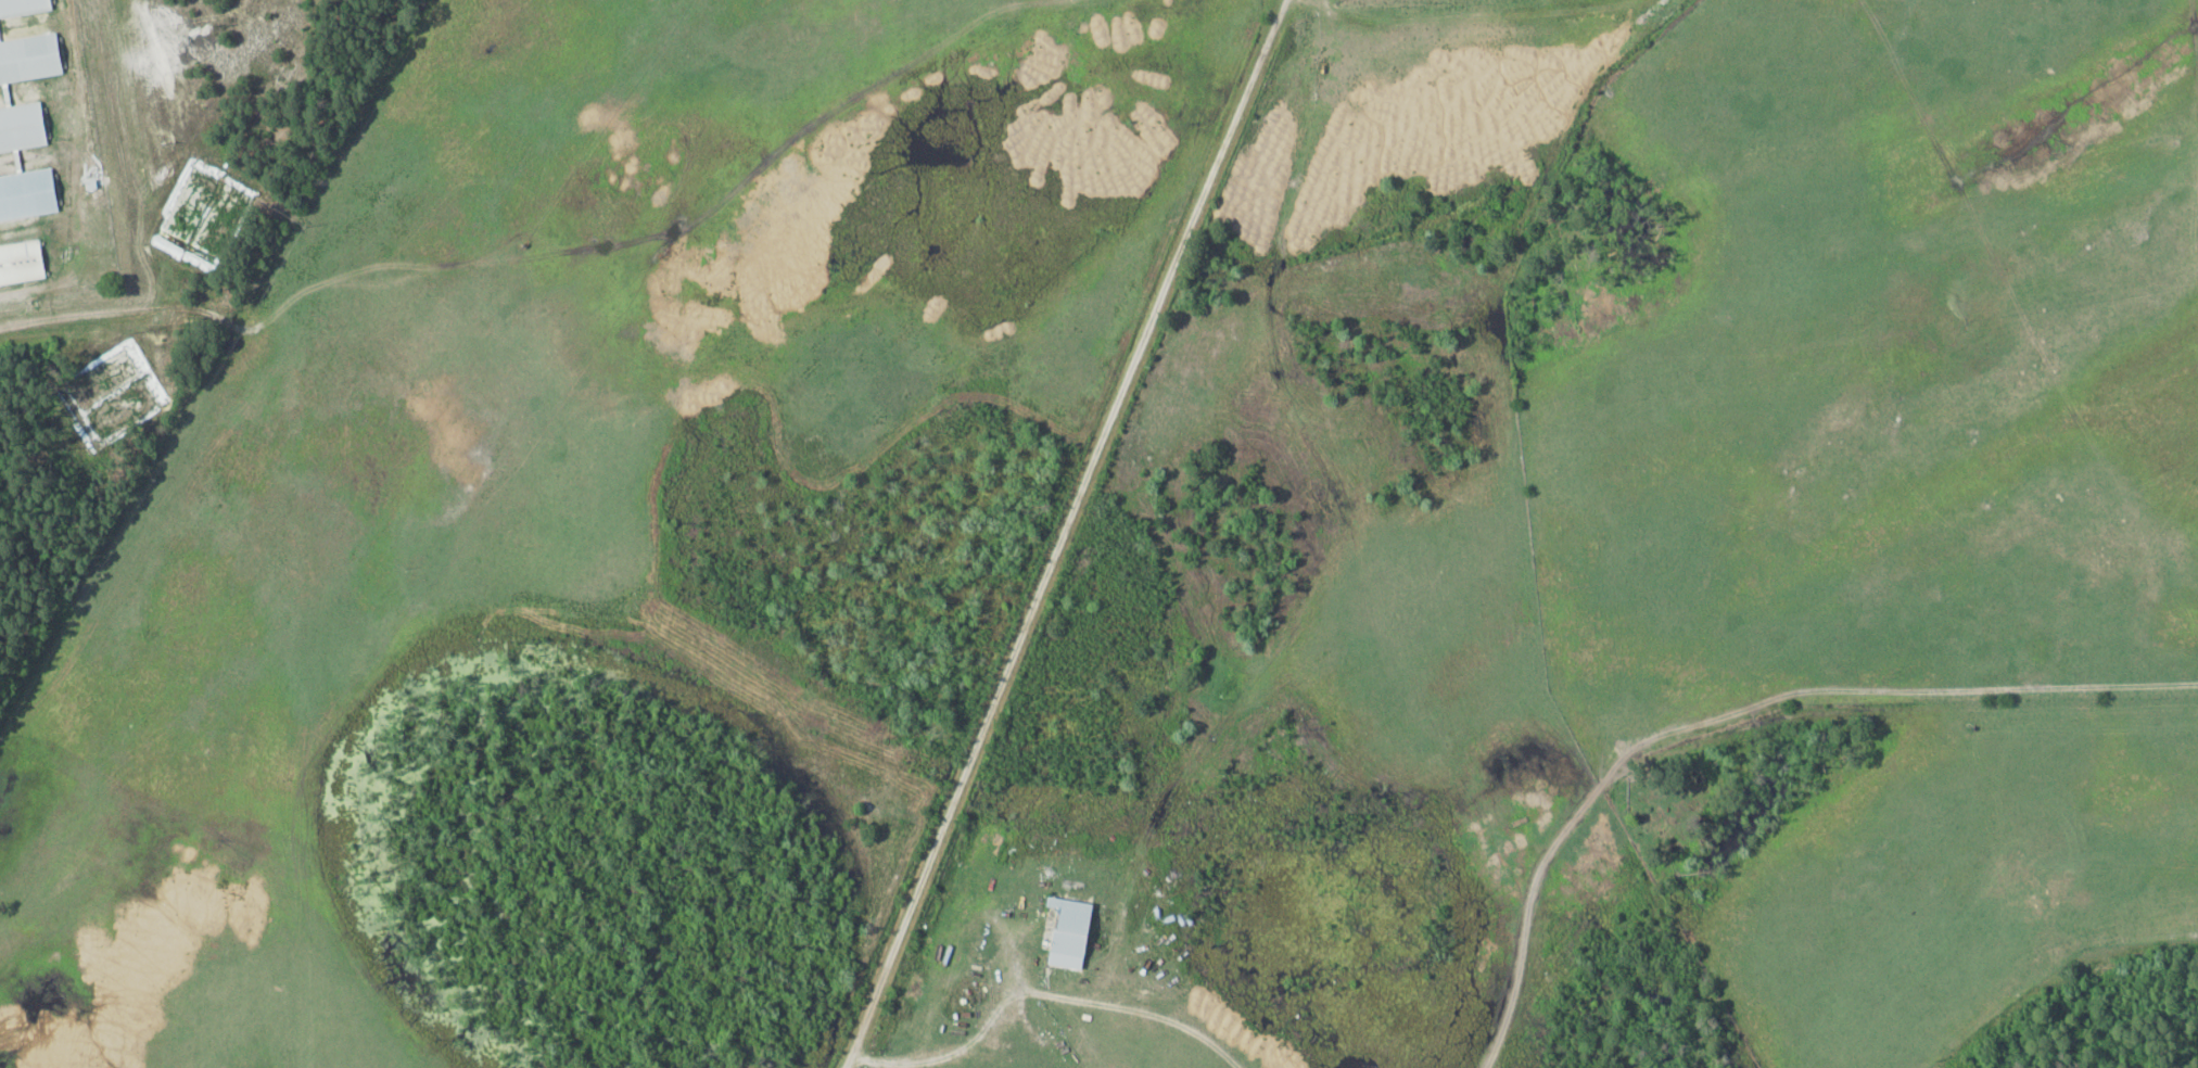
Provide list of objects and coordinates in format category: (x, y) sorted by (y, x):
building: (23, 7)
building: (21, 123)
building: (21, 263)
building: (1068, 931)

